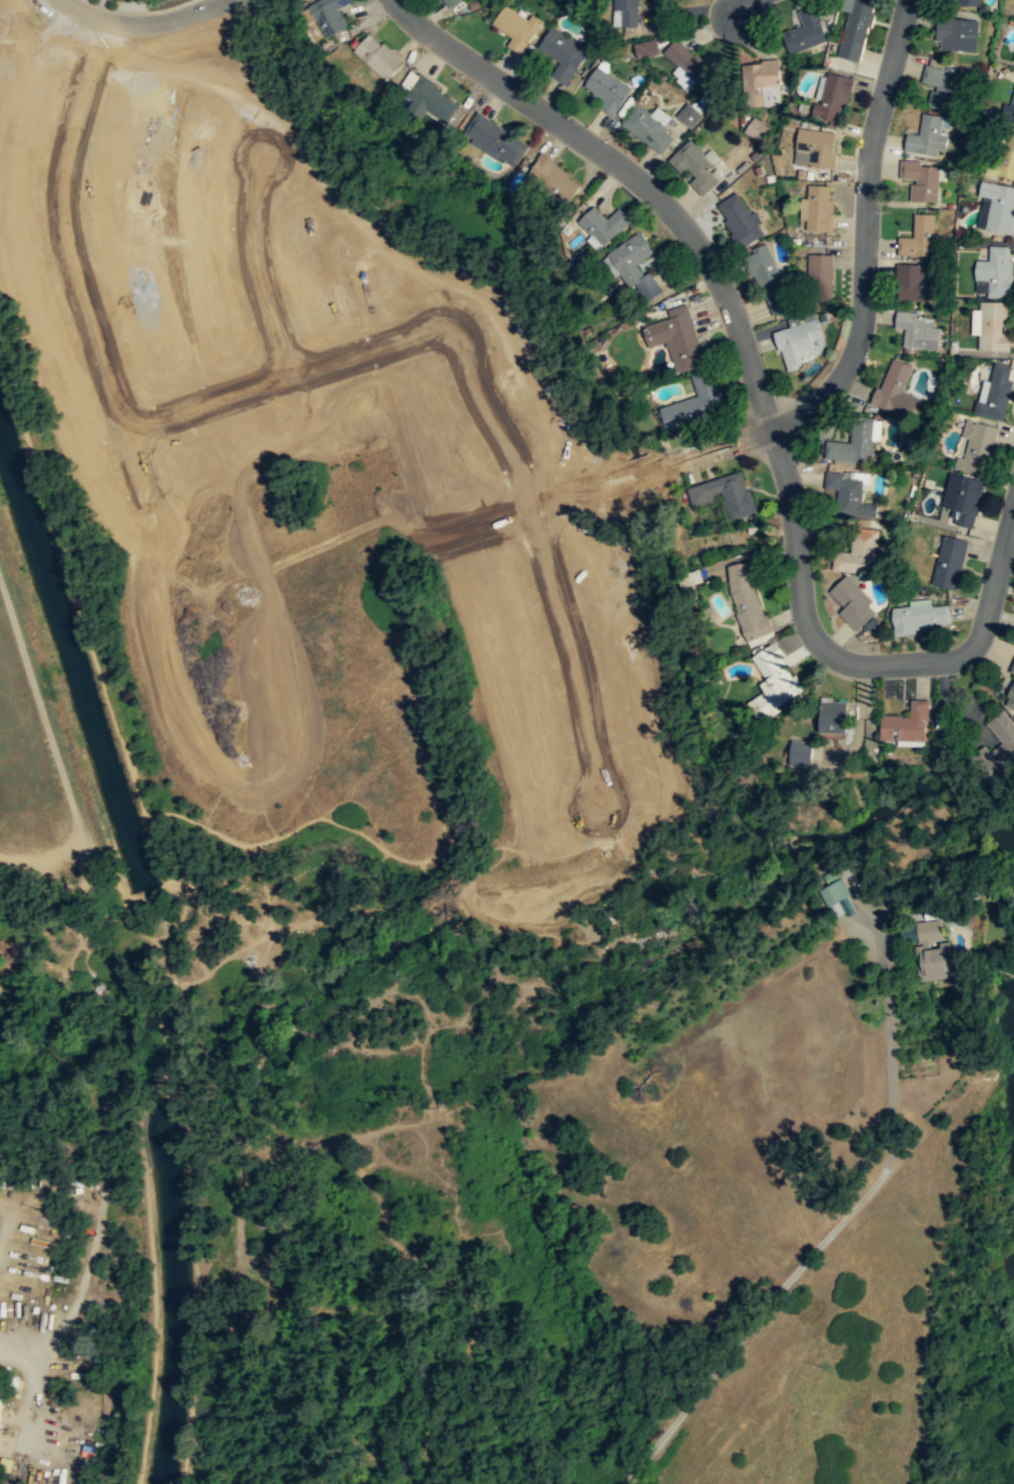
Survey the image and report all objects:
building: (448, 2)
building: (967, 3)
road: (756, 11)
building: (625, 13)
building: (328, 15)
building: (518, 26)
road: (153, 28)
building: (855, 28)
building: (805, 31)
building: (956, 35)
building: (646, 47)
building: (562, 53)
building: (378, 56)
building: (1013, 58)
building: (691, 66)
building: (760, 84)
building: (606, 87)
building: (940, 89)
building: (431, 98)
building: (831, 98)
building: (1007, 109)
building: (686, 114)
building: (753, 128)
building: (648, 129)
building: (927, 136)
building: (494, 140)
building: (817, 148)
building: (1002, 159)
building: (695, 166)
road: (629, 175)
building: (554, 178)
building: (921, 181)
building: (818, 208)
building: (997, 209)
building: (738, 220)
building: (602, 225)
road: (872, 238)
building: (918, 238)
building: (631, 263)
building: (995, 272)
building: (819, 277)
building: (769, 281)
building: (912, 284)
building: (993, 328)
building: (917, 332)
building: (679, 338)
building: (795, 344)
building: (895, 389)
building: (996, 391)
building: (696, 403)
building: (856, 444)
building: (975, 448)
building: (723, 494)
building: (851, 496)
building: (965, 501)
building: (859, 553)
building: (949, 563)
building: (746, 602)
building: (852, 603)
building: (921, 619)
road: (847, 665)
building: (1012, 670)
building: (775, 680)
building: (1010, 700)
building: (832, 719)
building: (906, 724)
building: (1002, 739)
building: (800, 754)
building: (833, 888)
building: (932, 952)
road: (836, 1225)
building: (2, 1402)

